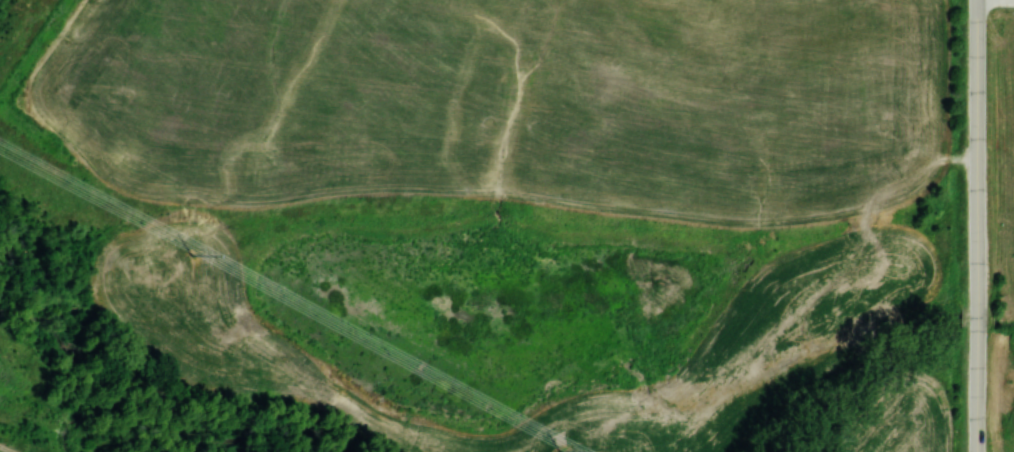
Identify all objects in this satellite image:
road: (977, 226)
power tower: (191, 254)
power tower: (558, 451)

